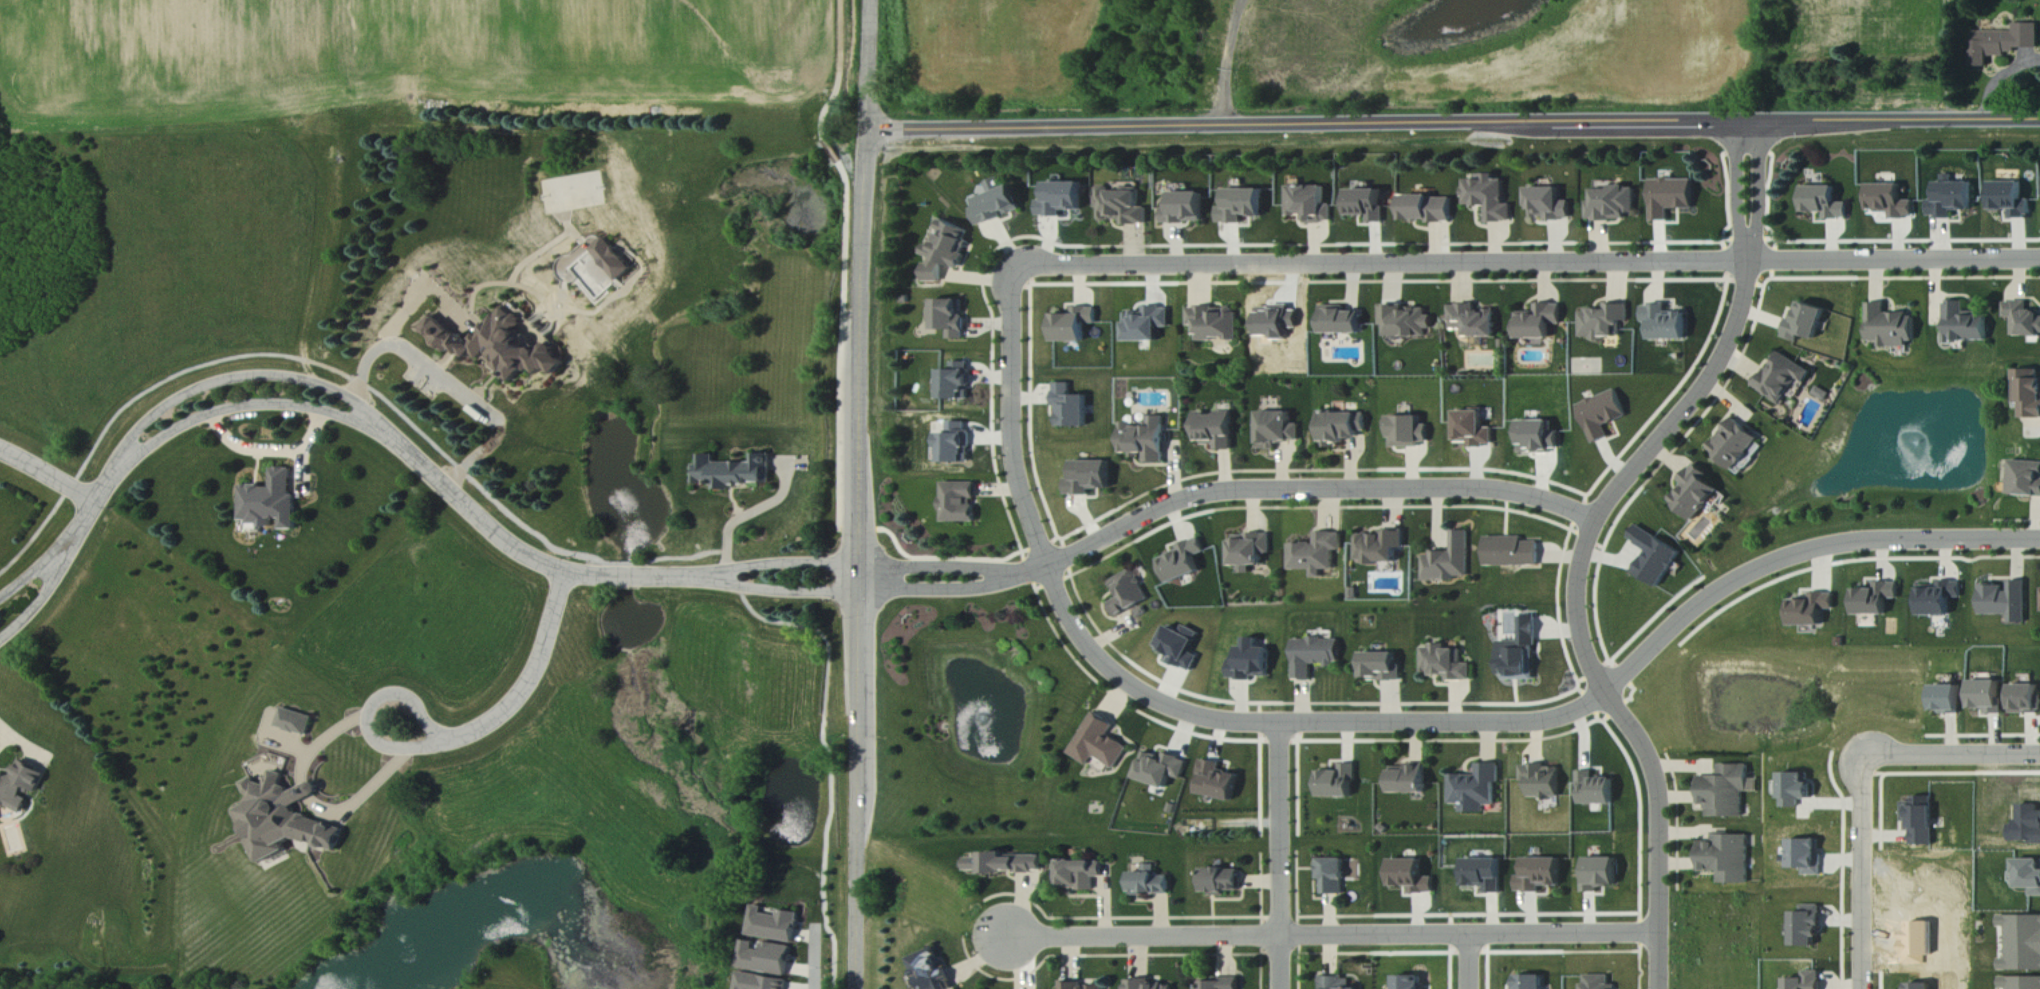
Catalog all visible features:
building: (2004, 43)
road: (1227, 62)
road: (1998, 76)
road: (1454, 123)
road: (1738, 186)
road: (1758, 186)
building: (1672, 197)
building: (1491, 198)
building: (1063, 199)
building: (1951, 199)
building: (2011, 199)
building: (1891, 201)
building: (1825, 202)
building: (1310, 204)
building: (1614, 204)
building: (1242, 205)
building: (1368, 205)
building: (1550, 205)
building: (998, 206)
building: (1122, 207)
building: (1185, 208)
building: (1429, 209)
building: (949, 250)
road: (1530, 263)
building: (951, 319)
building: (2022, 319)
building: (1344, 321)
building: (1409, 321)
building: (1475, 321)
building: (1540, 322)
building: (1604, 322)
building: (1806, 322)
building: (1668, 323)
building: (1147, 324)
building: (1215, 324)
building: (1965, 325)
building: (1075, 326)
building: (1890, 326)
building: (498, 345)
road: (243, 377)
building: (1784, 378)
building: (958, 382)
road: (452, 387)
building: (2028, 392)
building: (1072, 407)
road: (248, 408)
building: (1604, 415)
building: (1340, 428)
building: (1216, 430)
building: (1277, 430)
building: (1474, 430)
building: (1410, 432)
building: (1540, 437)
building: (1146, 439)
building: (958, 443)
building: (1735, 444)
building: (734, 472)
road: (48, 475)
building: (1090, 478)
building: (2025, 479)
road: (1307, 489)
building: (1696, 493)
road: (860, 494)
building: (961, 502)
road: (94, 504)
road: (748, 515)
building: (1382, 547)
building: (1251, 551)
building: (1513, 552)
building: (1318, 555)
building: (1656, 557)
building: (1451, 560)
building: (1183, 562)
road: (44, 564)
road: (545, 564)
road: (791, 565)
road: (944, 569)
road: (49, 587)
road: (946, 591)
road: (792, 592)
building: (1130, 596)
building: (1939, 598)
building: (1875, 599)
building: (2008, 601)
road: (1579, 604)
building: (1811, 610)
building: (1182, 648)
building: (1522, 654)
building: (1315, 656)
building: (1252, 661)
building: (1447, 664)
building: (1383, 667)
building: (1991, 697)
road: (516, 698)
building: (1951, 699)
building: (2027, 699)
building: (295, 722)
road: (1386, 723)
road: (399, 735)
road: (25, 743)
building: (1100, 744)
road: (1952, 756)
building: (1160, 769)
building: (1409, 780)
building: (1218, 782)
building: (1543, 782)
building: (1339, 783)
building: (20, 787)
building: (1476, 789)
building: (1597, 790)
building: (1798, 790)
road: (308, 792)
building: (1729, 792)
building: (283, 819)
building: (1923, 820)
building: (2029, 826)
road: (1280, 856)
building: (1808, 857)
building: (1728, 858)
building: (1006, 865)
road: (1864, 872)
building: (1080, 875)
building: (1486, 875)
building: (1542, 875)
building: (1602, 875)
building: (2031, 876)
building: (1332, 877)
building: (1412, 878)
building: (1220, 882)
building: (1150, 883)
building: (776, 925)
building: (1810, 927)
road: (1335, 936)
building: (2024, 944)
road: (816, 957)
building: (768, 959)
road: (1470, 962)
building: (934, 971)
building: (1810, 981)
building: (762, 982)
building: (1532, 982)
building: (1335, 983)
building: (1411, 983)
building: (1600, 983)
building: (2022, 983)
building: (1222, 984)
building: (1146, 985)
building: (1924, 986)
building: (1084, 987)

